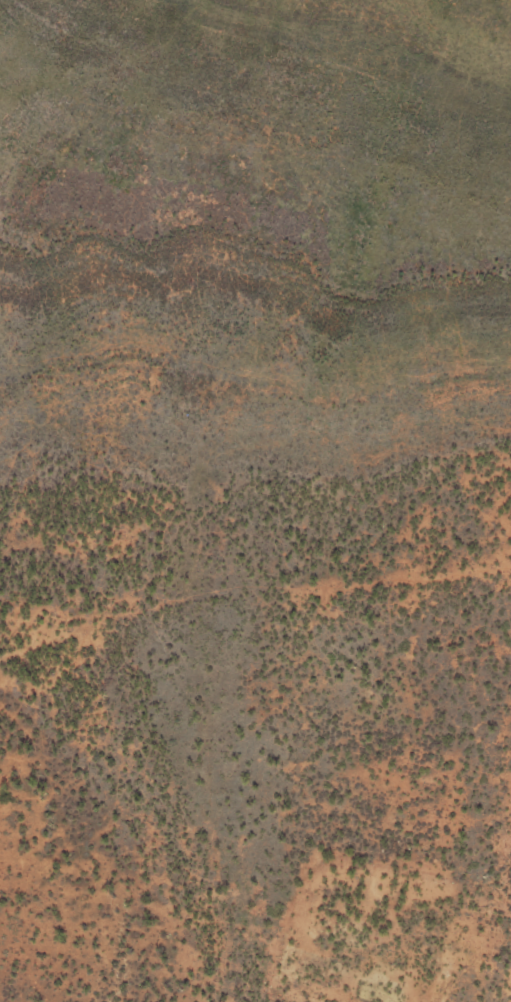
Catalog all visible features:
road: (22, 663)

